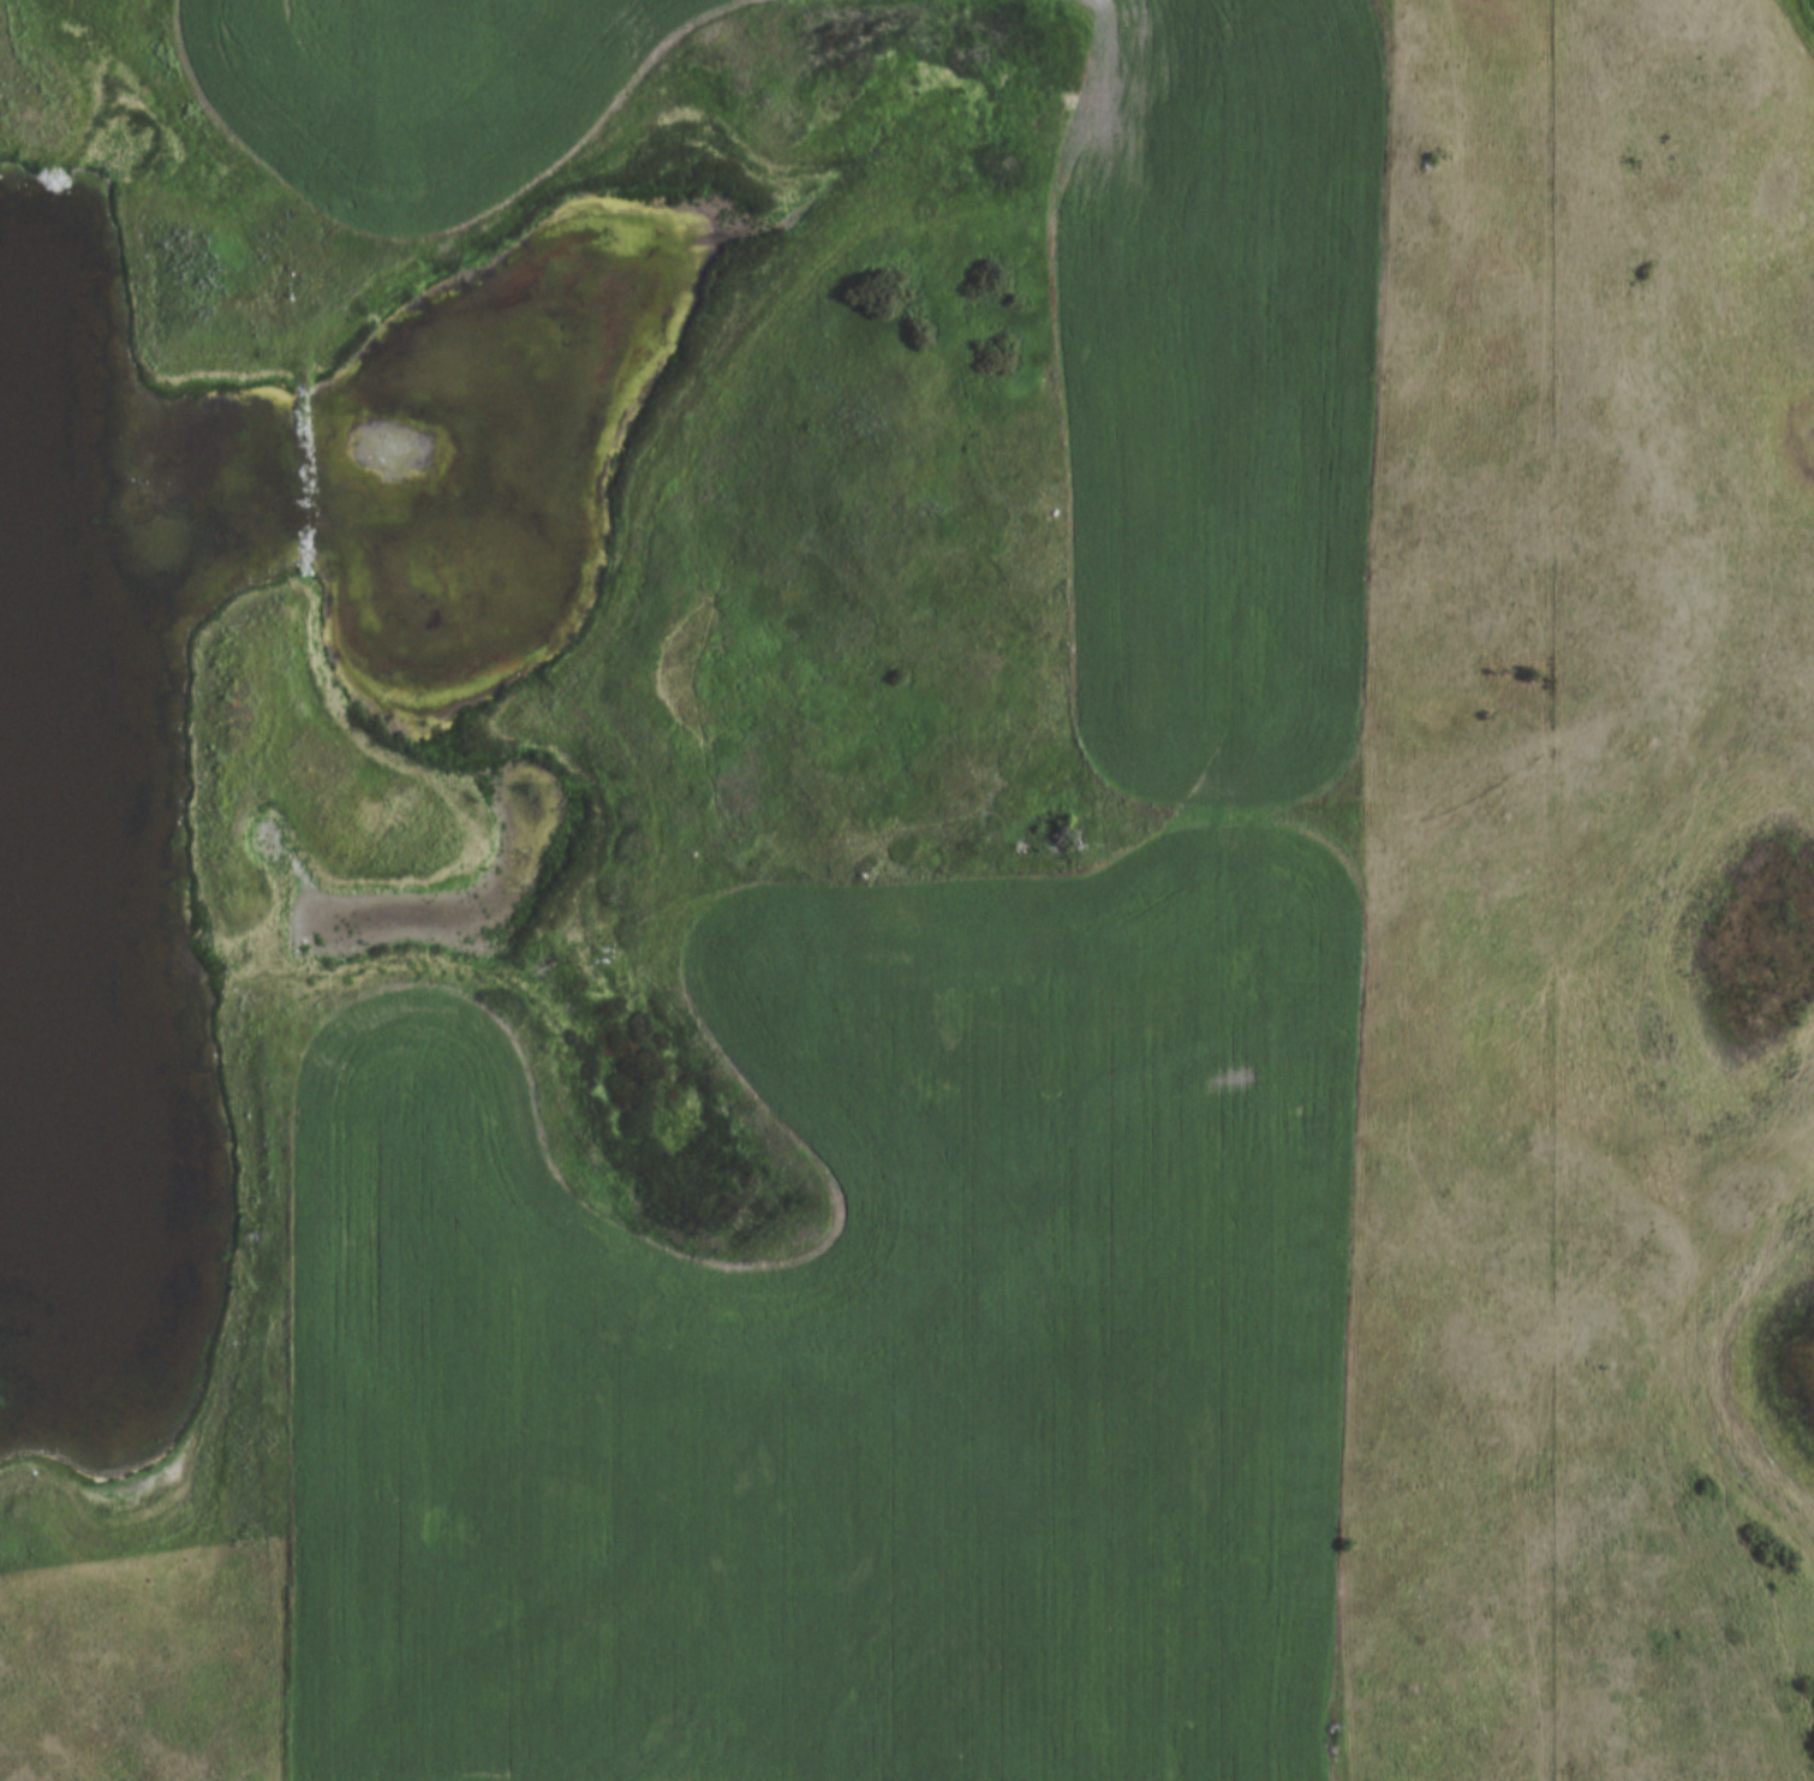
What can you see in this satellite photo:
road: (757, 320)
road: (887, 792)
road: (300, 976)

